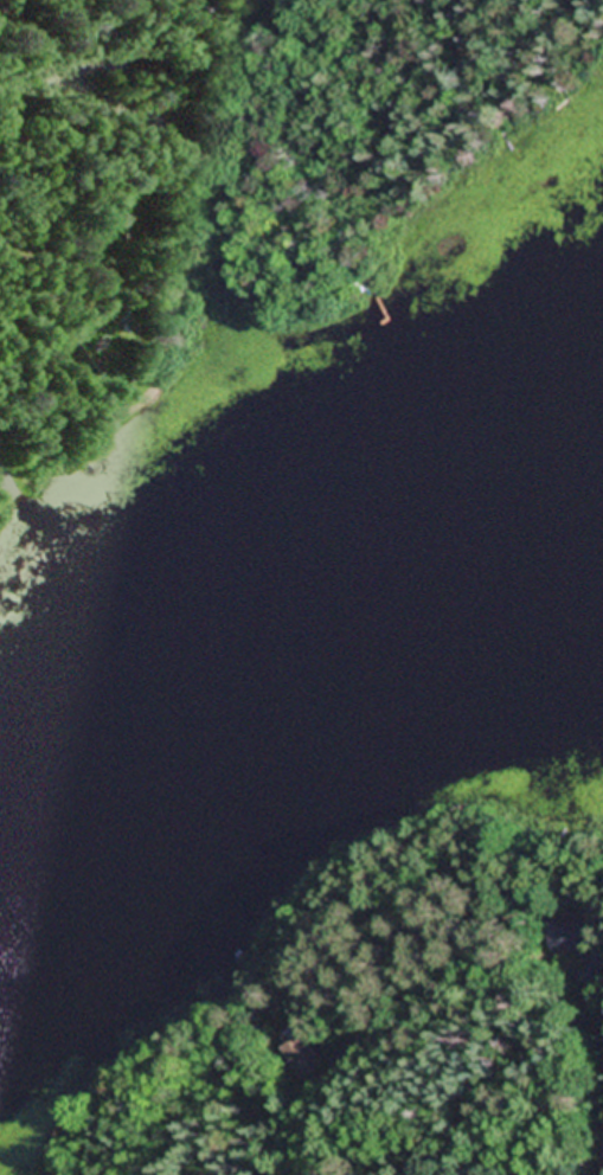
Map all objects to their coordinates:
building: (77, 359)
park: (14, 474)
road: (9, 482)
building: (575, 932)
building: (303, 1059)

